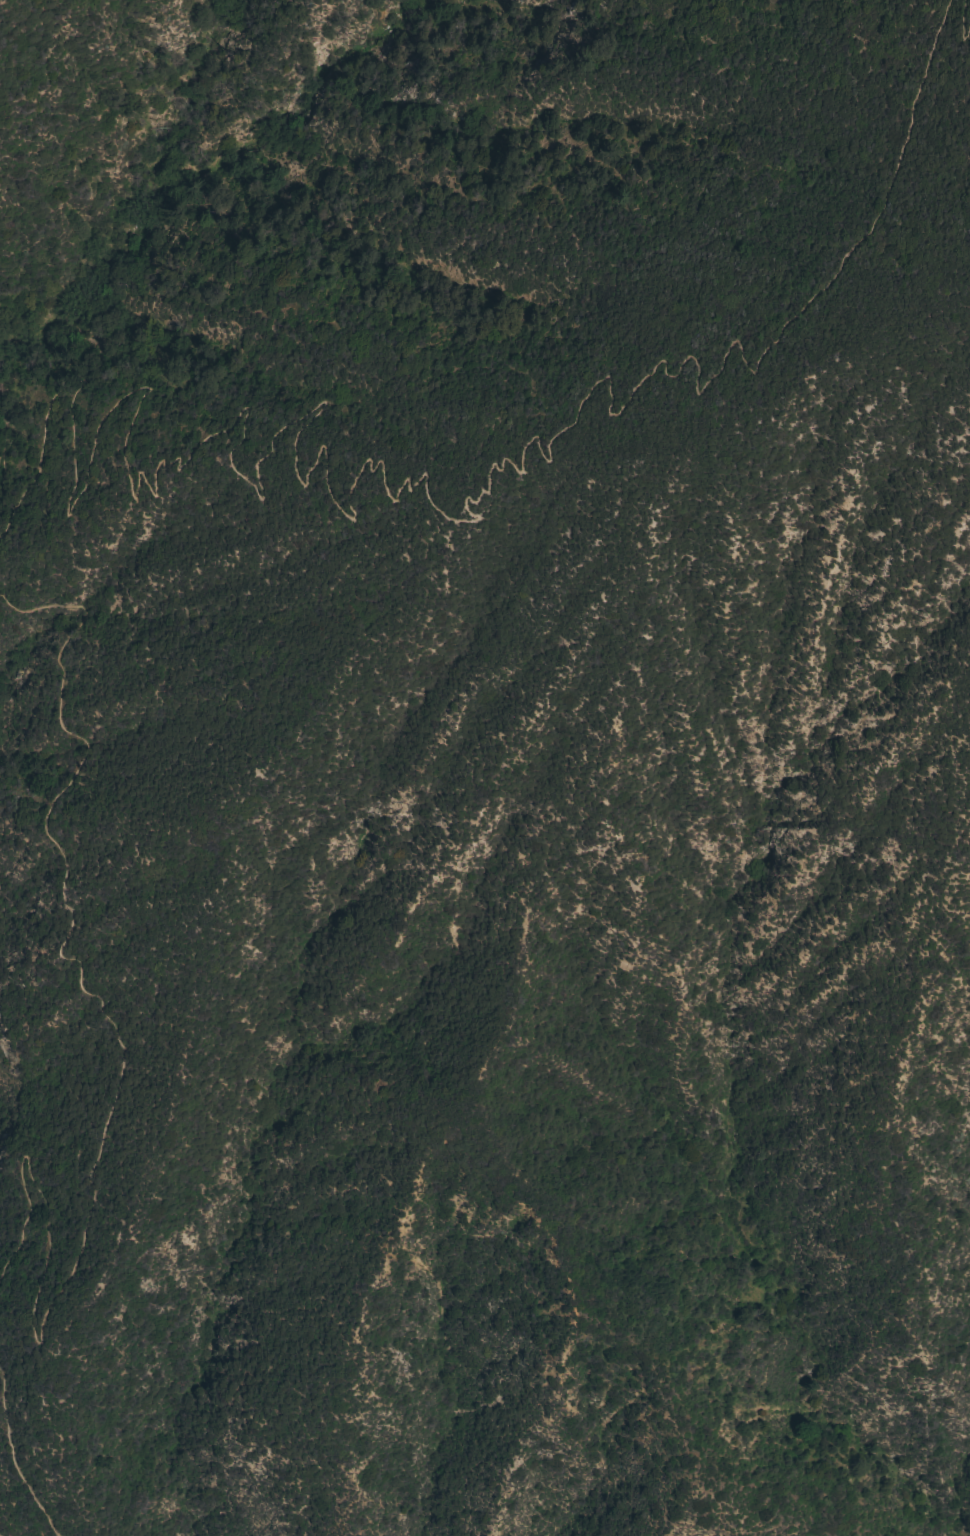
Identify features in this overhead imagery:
road: (961, 32)
road: (9, 447)
road: (354, 499)
road: (119, 1066)
road: (16, 1457)

